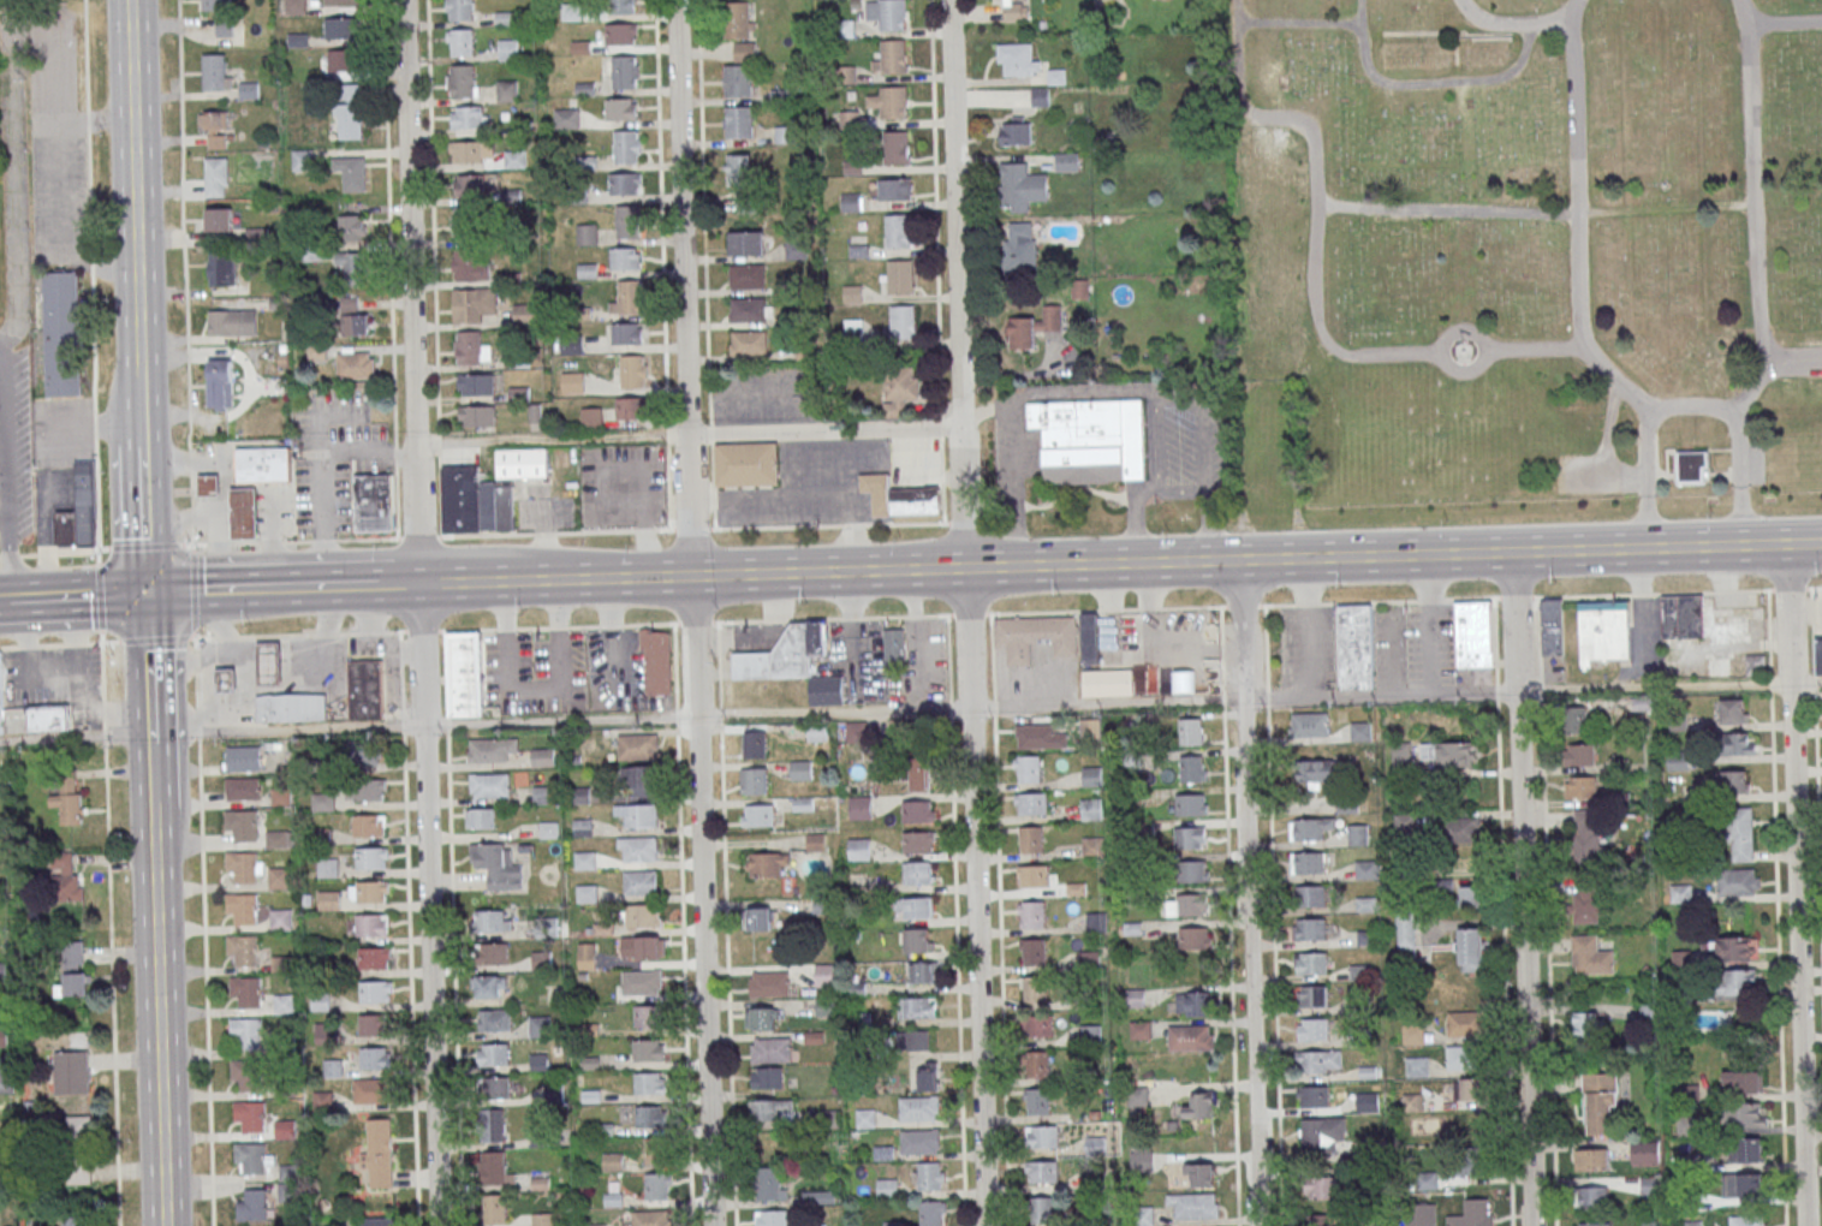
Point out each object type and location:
building: (340, 2)
building: (215, 5)
building: (624, 6)
building: (296, 7)
building: (459, 10)
building: (1017, 11)
building: (887, 13)
road: (1784, 19)
building: (738, 20)
road: (1290, 22)
road: (1511, 23)
building: (224, 28)
building: (340, 28)
building: (621, 34)
building: (459, 42)
building: (507, 49)
building: (745, 50)
building: (891, 56)
building: (1018, 59)
building: (341, 60)
building: (215, 72)
building: (624, 72)
road: (13, 79)
building: (737, 81)
building: (460, 82)
road: (1429, 82)
building: (506, 90)
building: (1041, 96)
building: (891, 102)
building: (620, 109)
road: (1272, 113)
building: (469, 117)
building: (566, 119)
building: (350, 120)
building: (738, 123)
road: (88, 124)
building: (216, 130)
building: (1016, 130)
building: (627, 147)
building: (895, 148)
building: (471, 151)
building: (302, 160)
building: (514, 160)
building: (1067, 160)
building: (739, 169)
building: (352, 174)
building: (216, 178)
road: (133, 179)
building: (624, 184)
building: (469, 185)
building: (1020, 186)
building: (894, 190)
building: (746, 201)
road: (1322, 204)
road: (1751, 204)
road: (935, 209)
road: (660, 213)
road: (703, 213)
building: (219, 220)
road: (1577, 220)
building: (627, 221)
building: (466, 224)
road: (58, 227)
building: (351, 227)
building: (898, 231)
building: (587, 234)
building: (746, 243)
building: (1022, 246)
building: (796, 250)
building: (315, 254)
building: (626, 258)
park: (1523, 261)
road: (91, 262)
building: (470, 264)
building: (351, 267)
road: (434, 268)
building: (222, 269)
road: (389, 269)
road: (184, 276)
building: (748, 276)
building: (900, 276)
building: (852, 293)
building: (627, 298)
building: (477, 304)
building: (746, 310)
building: (526, 314)
building: (353, 316)
building: (231, 322)
building: (903, 322)
building: (1034, 327)
building: (627, 332)
building: (859, 332)
building: (62, 333)
building: (748, 344)
building: (471, 349)
road: (1538, 350)
building: (356, 364)
road: (1442, 371)
building: (631, 375)
road: (1023, 376)
building: (572, 382)
building: (221, 385)
building: (476, 385)
road: (1756, 386)
building: (900, 389)
road: (1055, 393)
road: (141, 401)
road: (1691, 404)
building: (631, 409)
road: (1608, 415)
building: (477, 416)
building: (591, 418)
road: (94, 419)
road: (87, 423)
road: (941, 427)
road: (710, 434)
road: (667, 435)
road: (689, 435)
building: (1090, 439)
road: (1155, 440)
road: (1203, 458)
building: (745, 462)
building: (264, 464)
building: (524, 464)
road: (206, 465)
building: (1689, 465)
parking lot: (1588, 472)
road: (323, 474)
road: (1633, 477)
road: (8, 478)
building: (209, 483)
road: (942, 483)
road: (1016, 483)
road: (713, 492)
road: (1073, 492)
road: (669, 493)
road: (1180, 494)
road: (1130, 495)
building: (899, 498)
building: (476, 502)
building: (375, 504)
road: (1014, 504)
road: (993, 507)
road: (972, 508)
building: (79, 511)
building: (245, 512)
road: (5, 513)
road: (245, 513)
road: (189, 516)
road: (1136, 517)
road: (145, 519)
road: (987, 519)
road: (964, 523)
road: (984, 523)
road: (828, 525)
road: (691, 529)
road: (555, 534)
road: (46, 535)
road: (419, 537)
road: (291, 542)
road: (275, 546)
road: (145, 547)
road: (946, 549)
road: (988, 549)
road: (65, 552)
road: (1393, 554)
road: (10, 557)
road: (715, 558)
road: (671, 559)
road: (692, 575)
road: (386, 584)
road: (411, 584)
road: (258, 588)
road: (1779, 589)
road: (193, 590)
road: (1723, 590)
road: (1681, 591)
road: (1641, 593)
traffic signals: (149, 594)
road: (1580, 595)
road: (89, 596)
road: (1516, 596)
road: (14, 599)
road: (100, 599)
road: (1471, 599)
road: (1430, 600)
road: (1368, 601)
road: (1276, 603)
road: (1306, 603)
road: (1242, 605)
road: (1193, 606)
road: (1130, 608)
road: (1149, 608)
road: (1111, 609)
road: (1042, 611)
road: (692, 612)
road: (966, 612)
road: (419, 613)
road: (969, 613)
building: (1681, 615)
road: (220, 621)
road: (1430, 625)
road: (570, 626)
building: (1552, 626)
building: (1604, 630)
building: (1472, 633)
building: (1035, 636)
road: (370, 637)
building: (1090, 637)
road: (154, 639)
road: (59, 643)
building: (894, 644)
building: (1354, 645)
road: (1266, 648)
road: (1221, 649)
building: (1820, 655)
road: (31, 656)
building: (656, 661)
building: (270, 662)
road: (311, 663)
building: (1755, 663)
road: (719, 665)
building: (1719, 665)
road: (675, 667)
road: (150, 668)
building: (465, 673)
road: (244, 678)
building: (226, 679)
building: (1108, 682)
road: (76, 685)
building: (365, 689)
building: (826, 689)
road: (1267, 700)
road: (1222, 701)
road: (1258, 701)
road: (549, 703)
building: (292, 708)
building: (1732, 710)
building: (31, 715)
road: (720, 716)
road: (677, 719)
building: (1576, 719)
building: (1310, 724)
road: (423, 726)
building: (1191, 731)
building: (1362, 731)
building: (1042, 734)
road: (76, 740)
building: (1738, 743)
building: (755, 744)
building: (637, 746)
building: (492, 749)
building: (365, 751)
building: (1449, 752)
building: (1579, 754)
building: (1401, 755)
building: (543, 757)
building: (243, 758)
building: (1678, 760)
building: (1028, 768)
building: (1193, 768)
building: (800, 769)
building: (1318, 770)
building: (919, 773)
road: (154, 775)
building: (1092, 775)
building: (641, 778)
building: (754, 780)
building: (1734, 780)
building: (490, 785)
building: (1580, 785)
building: (243, 788)
road: (1816, 790)
building: (369, 791)
building: (544, 794)
building: (281, 797)
building: (66, 802)
building: (322, 802)
building: (1031, 802)
building: (1191, 803)
building: (859, 807)
building: (1090, 808)
building: (918, 810)
building: (758, 814)
building: (639, 815)
building: (481, 819)
building: (1405, 821)
building: (368, 825)
building: (242, 826)
building: (1310, 827)
building: (583, 828)
building: (549, 829)
building: (1460, 829)
building: (1358, 833)
building: (1586, 834)
building: (1738, 834)
building: (1191, 837)
building: (1031, 838)
building: (279, 839)
building: (816, 841)
building: (918, 841)
building: (1092, 845)
building: (638, 849)
building: (371, 858)
building: (1308, 862)
building: (766, 863)
building: (496, 865)
building: (244, 868)
building: (327, 868)
building: (1366, 869)
building: (1195, 870)
building: (918, 871)
building: (1036, 875)
building: (279, 877)
building: (66, 879)
building: (1738, 881)
building: (641, 882)
road: (1794, 885)
road: (1522, 888)
building: (370, 892)
road: (1249, 892)
building: (1311, 894)
building: (1470, 895)
building: (1588, 899)
building: (328, 900)
building: (1186, 904)
building: (916, 906)
road: (1776, 906)
building: (245, 909)
building: (1032, 913)
building: (643, 916)
building: (760, 918)
road: (999, 918)
building: (281, 919)
road: (954, 919)
building: (1095, 921)
building: (490, 922)
building: (371, 926)
road: (202, 927)
building: (1309, 928)
road: (109, 929)
building: (1406, 932)
building: (1196, 936)
building: (919, 940)
building: (650, 947)
building: (1735, 947)
building: (1470, 948)
building: (244, 950)
building: (70, 951)
building: (1032, 951)
building: (494, 953)
building: (585, 956)
building: (1590, 956)
building: (375, 958)
building: (541, 960)
building: (1311, 963)
road: (1274, 966)
road: (1231, 968)
building: (923, 971)
road: (727, 975)
building: (823, 975)
road: (683, 976)
building: (1739, 980)
building: (641, 983)
building: (769, 983)
building: (72, 986)
building: (490, 987)
building: (1035, 989)
building: (245, 992)
building: (375, 992)
building: (1312, 995)
building: (1192, 1001)
building: (318, 1002)
building: (284, 1004)
building: (824, 1006)
building: (917, 1007)
road: (159, 1016)
building: (648, 1016)
building: (761, 1018)
building: (494, 1020)
building: (1464, 1023)
building: (373, 1024)
building: (1595, 1024)
building: (1037, 1025)
building: (538, 1026)
building: (1314, 1028)
building: (246, 1032)
building: (1090, 1032)
building: (1413, 1032)
building: (1198, 1036)
building: (2, 1037)
building: (917, 1040)
building: (648, 1049)
building: (772, 1049)
building: (493, 1055)
building: (1459, 1057)
building: (375, 1058)
building: (1320, 1060)
building: (1036, 1063)
building: (1417, 1066)
building: (69, 1072)
building: (244, 1075)
building: (928, 1076)
building: (767, 1077)
building: (6, 1082)
building: (650, 1083)
building: (496, 1088)
building: (1469, 1088)
building: (370, 1090)
building: (553, 1093)
building: (1315, 1095)
building: (1138, 1096)
building: (1037, 1100)
building: (1413, 1101)
building: (1601, 1102)
building: (1201, 1106)
building: (917, 1107)
building: (772, 1108)
building: (1745, 1113)
building: (249, 1115)
building: (649, 1115)
building: (865, 1117)
building: (1686, 1124)
building: (494, 1125)
building: (78, 1131)
building: (1323, 1132)
building: (1042, 1135)
building: (919, 1141)
building: (1095, 1143)
building: (1745, 1149)
building: (655, 1150)
building: (377, 1153)
building: (1645, 1153)
building: (252, 1159)
building: (1591, 1159)
building: (1141, 1160)
building: (1471, 1160)
building: (612, 1162)
building: (494, 1168)
building: (78, 1170)
building: (1042, 1171)
building: (1201, 1174)
building: (929, 1176)
building: (1428, 1179)
building: (768, 1182)
building: (287, 1183)
building: (1650, 1184)
building: (1745, 1184)
building: (659, 1185)
building: (1322, 1186)
building: (887, 1188)
building: (817, 1196)
building: (1592, 1196)
building: (613, 1200)
building: (252, 1204)
building: (1193, 1204)
building: (1042, 1208)
building: (494, 1209)
building: (931, 1212)
building: (1472, 1213)
building: (1421, 1214)
building: (650, 1218)
building: (772, 1218)
building: (542, 1219)
building: (1316, 1220)
building: (1747, 1220)
building: (73, 1221)
building: (374, 1221)
building: (1591, 1222)
building: (1651, 1222)
building: (1692, 1222)

